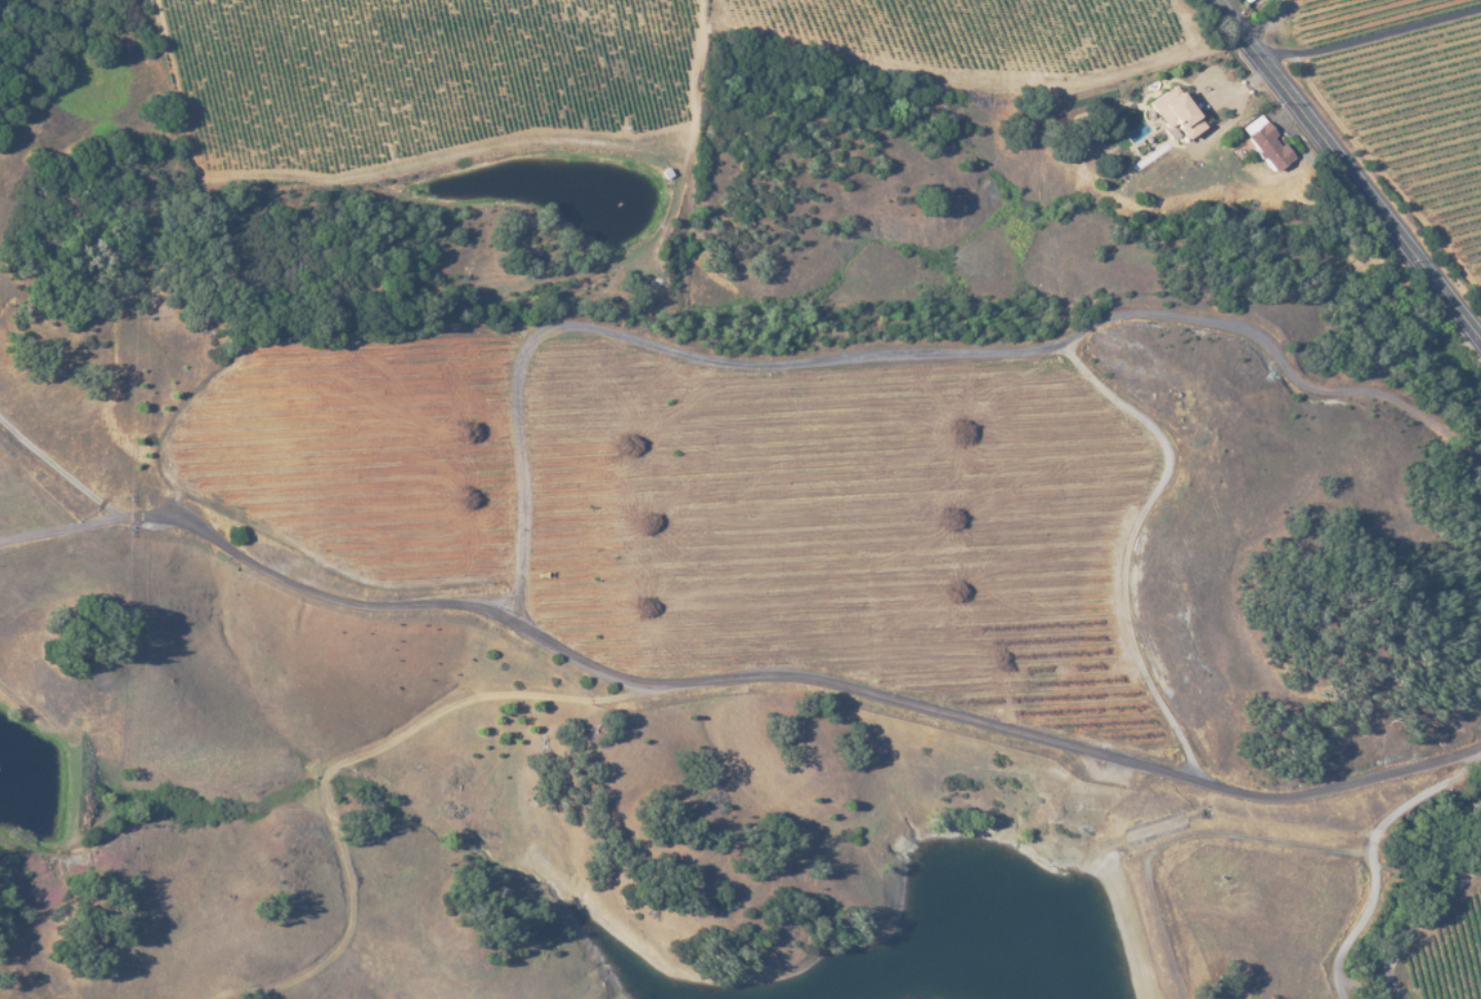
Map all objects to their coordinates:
road: (1287, 9)
road: (1266, 22)
road: (1373, 34)
building: (1174, 112)
road: (1233, 114)
building: (1264, 142)
road: (1350, 170)
road: (57, 466)
road: (735, 679)
road: (1431, 935)

